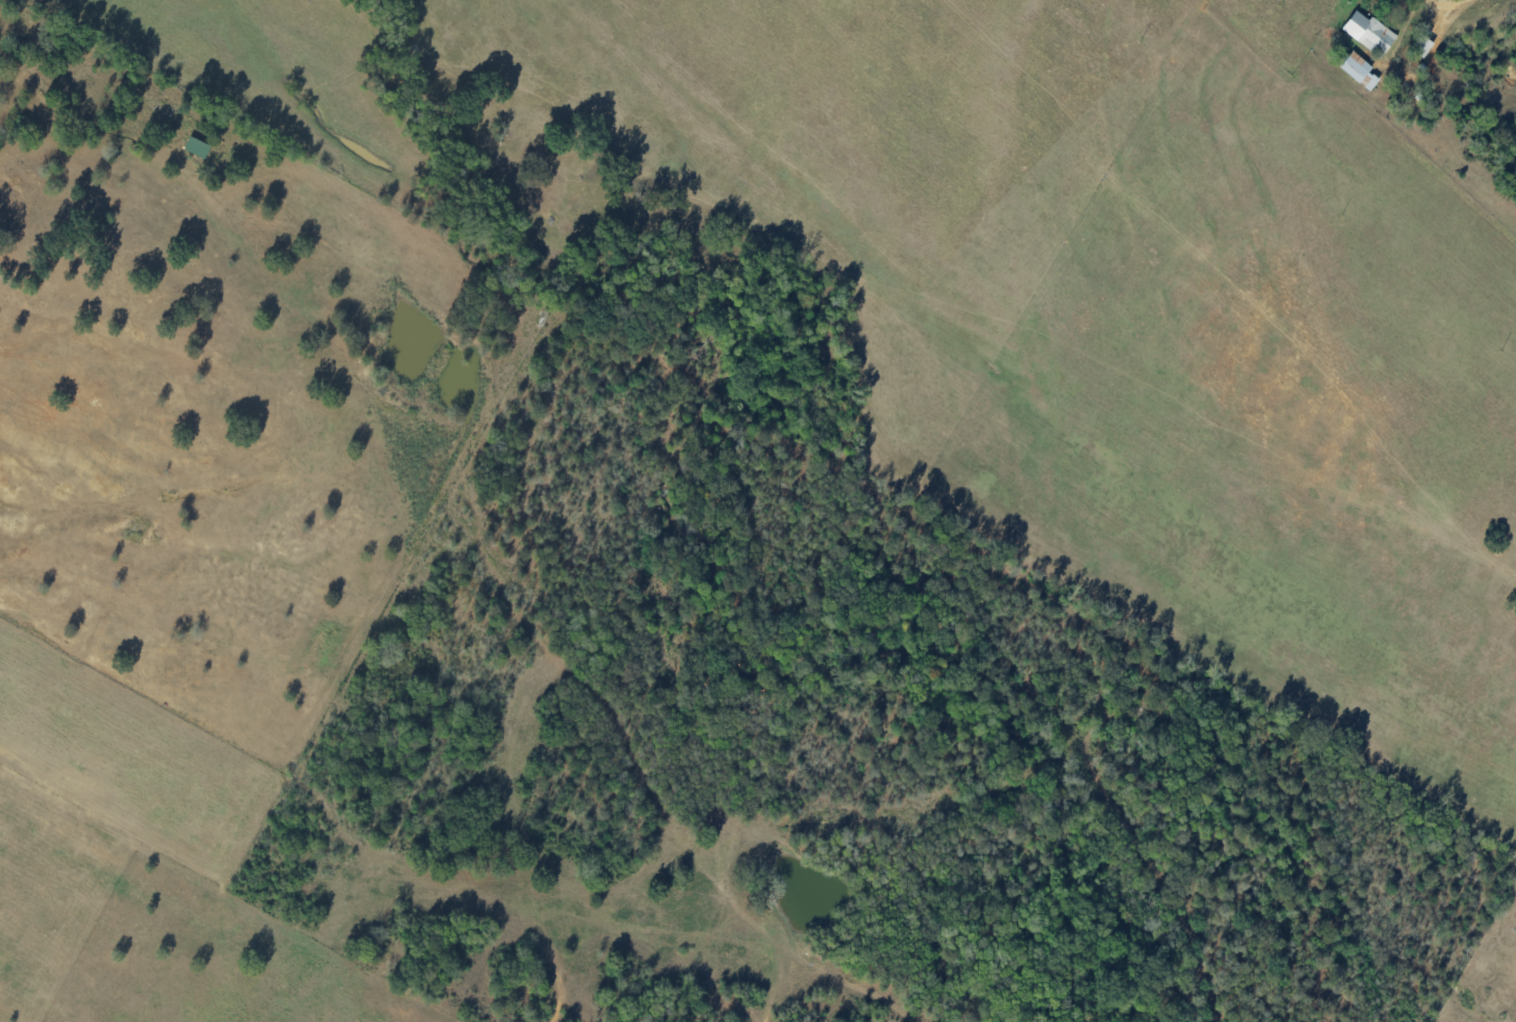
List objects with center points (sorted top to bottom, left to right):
building: (1369, 31)
building: (1359, 70)
building: (197, 147)

